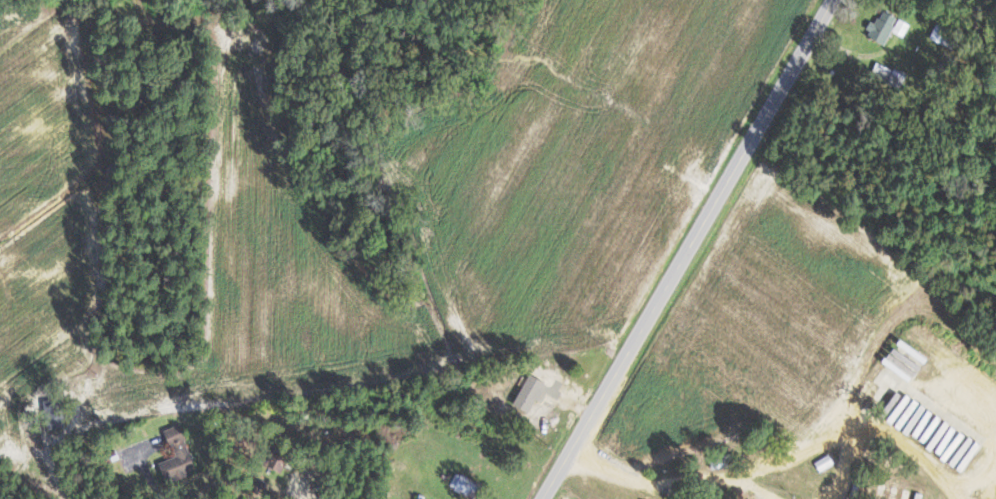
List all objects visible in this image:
building: (889, 26)
building: (946, 34)
building: (891, 75)
road: (689, 249)
building: (533, 393)
building: (60, 414)
building: (180, 457)
building: (284, 461)
building: (827, 462)
road: (774, 465)
road: (177, 493)

